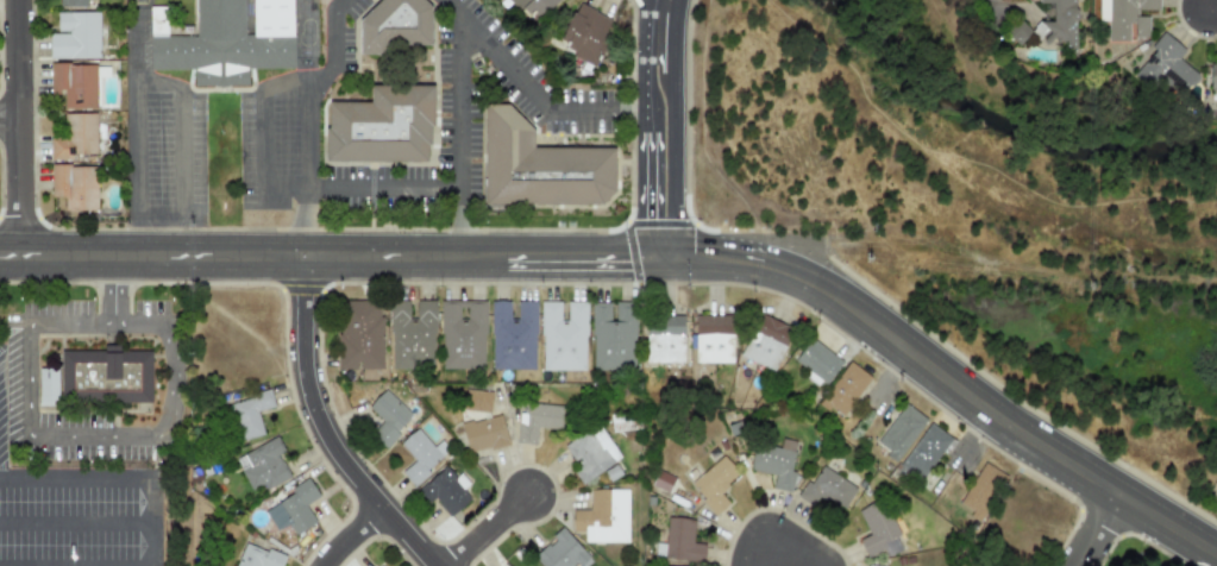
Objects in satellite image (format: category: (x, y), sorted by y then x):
building: (73, 4)
building: (532, 6)
road: (998, 6)
road: (1211, 6)
building: (1124, 18)
road: (658, 21)
building: (1058, 25)
building: (396, 30)
building: (1017, 31)
building: (585, 33)
building: (75, 36)
road: (303, 42)
building: (232, 45)
road: (334, 48)
road: (664, 58)
building: (1166, 65)
building: (1212, 75)
building: (74, 84)
road: (645, 86)
road: (532, 89)
road: (686, 96)
road: (10, 121)
building: (381, 125)
road: (18, 127)
road: (183, 136)
building: (74, 137)
road: (460, 138)
road: (138, 143)
road: (965, 163)
road: (671, 165)
road: (309, 170)
building: (545, 170)
building: (74, 185)
road: (293, 190)
road: (648, 195)
traffic signals: (650, 216)
road: (905, 247)
road: (150, 256)
traffic signals: (692, 256)
road: (383, 257)
road: (564, 257)
traffic signals: (623, 257)
road: (770, 266)
road: (664, 283)
road: (714, 283)
road: (117, 289)
road: (788, 296)
road: (93, 323)
building: (359, 334)
building: (412, 334)
building: (462, 334)
building: (512, 335)
building: (611, 335)
building: (563, 337)
road: (853, 337)
building: (663, 339)
building: (711, 339)
building: (765, 341)
building: (817, 363)
building: (105, 376)
road: (882, 383)
building: (46, 386)
building: (843, 389)
building: (477, 401)
road: (987, 413)
building: (246, 415)
building: (387, 416)
building: (537, 420)
road: (321, 429)
building: (899, 432)
building: (483, 433)
road: (971, 439)
building: (926, 451)
building: (590, 452)
building: (418, 455)
building: (774, 461)
building: (262, 465)
building: (714, 484)
road: (8, 489)
road: (86, 489)
building: (826, 489)
building: (1216, 489)
building: (980, 490)
building: (444, 492)
building: (291, 509)
building: (602, 516)
road: (1167, 524)
building: (877, 526)
road: (156, 527)
road: (77, 529)
road: (1094, 529)
road: (485, 530)
road: (350, 535)
building: (680, 541)
building: (559, 551)
road: (778, 551)
building: (257, 556)
building: (868, 565)

